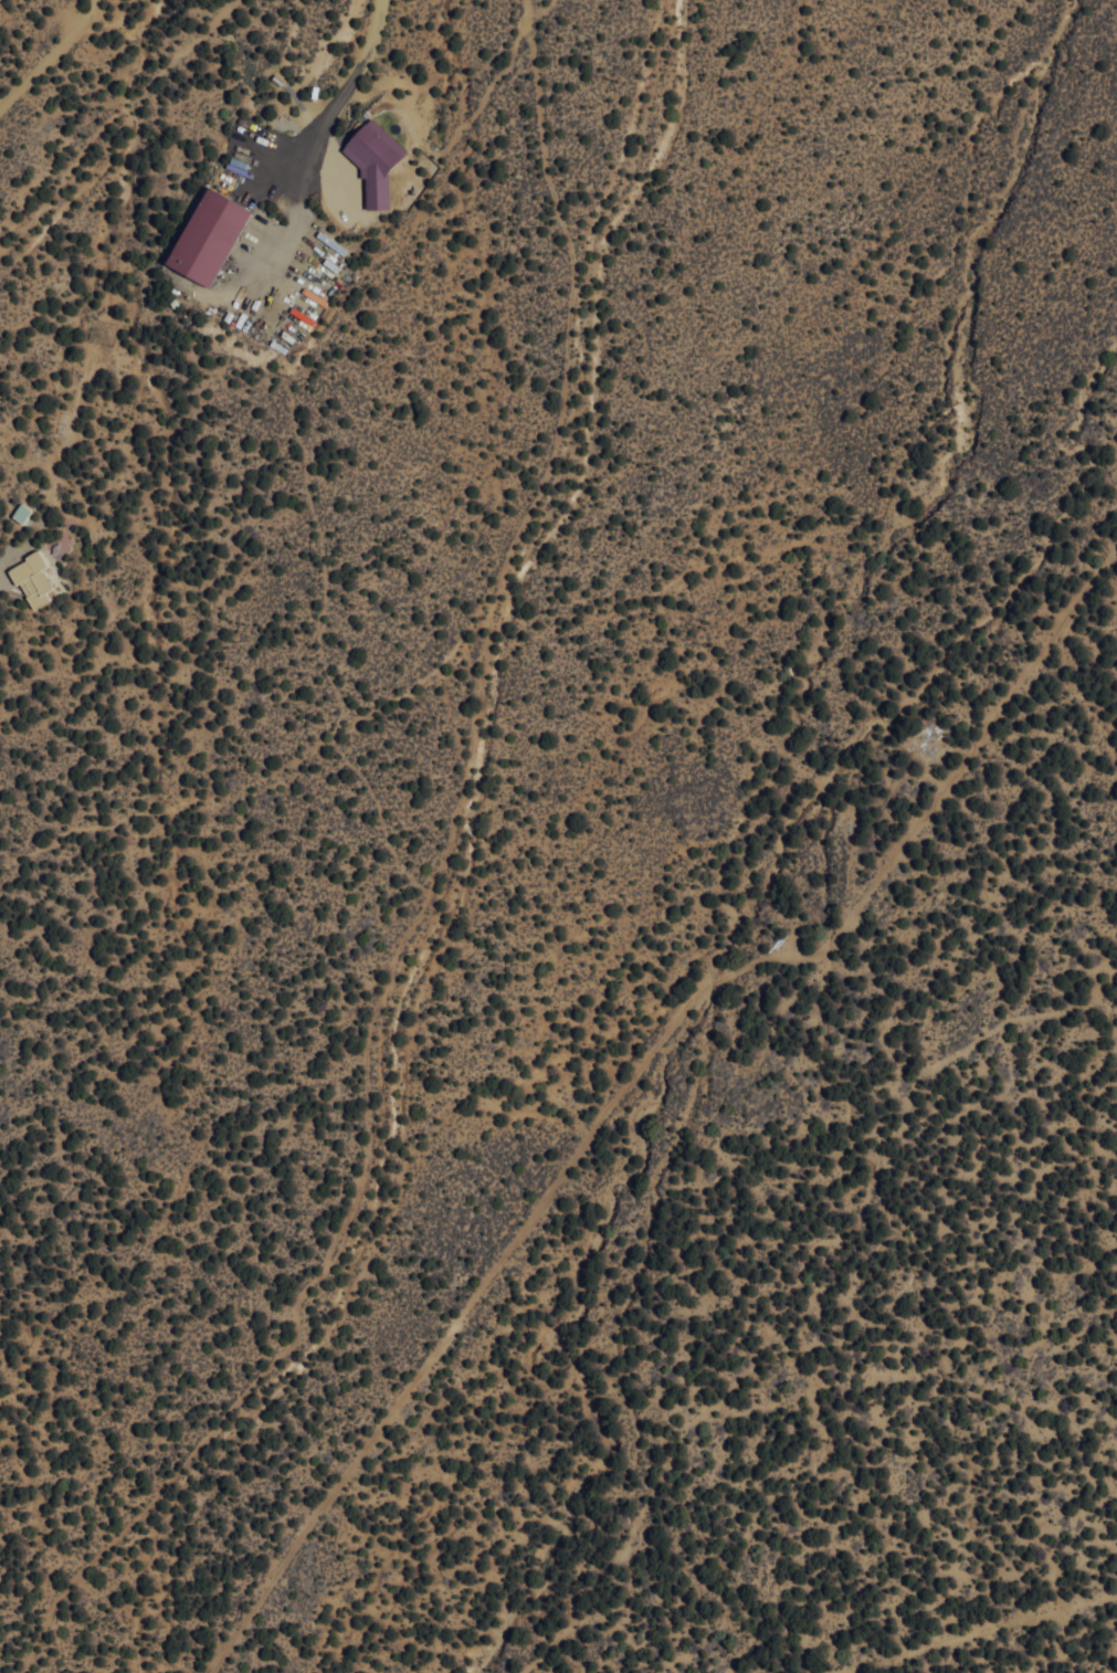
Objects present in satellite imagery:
road: (49, 52)
road: (337, 87)
building: (372, 160)
building: (212, 234)
building: (21, 512)
building: (31, 579)

